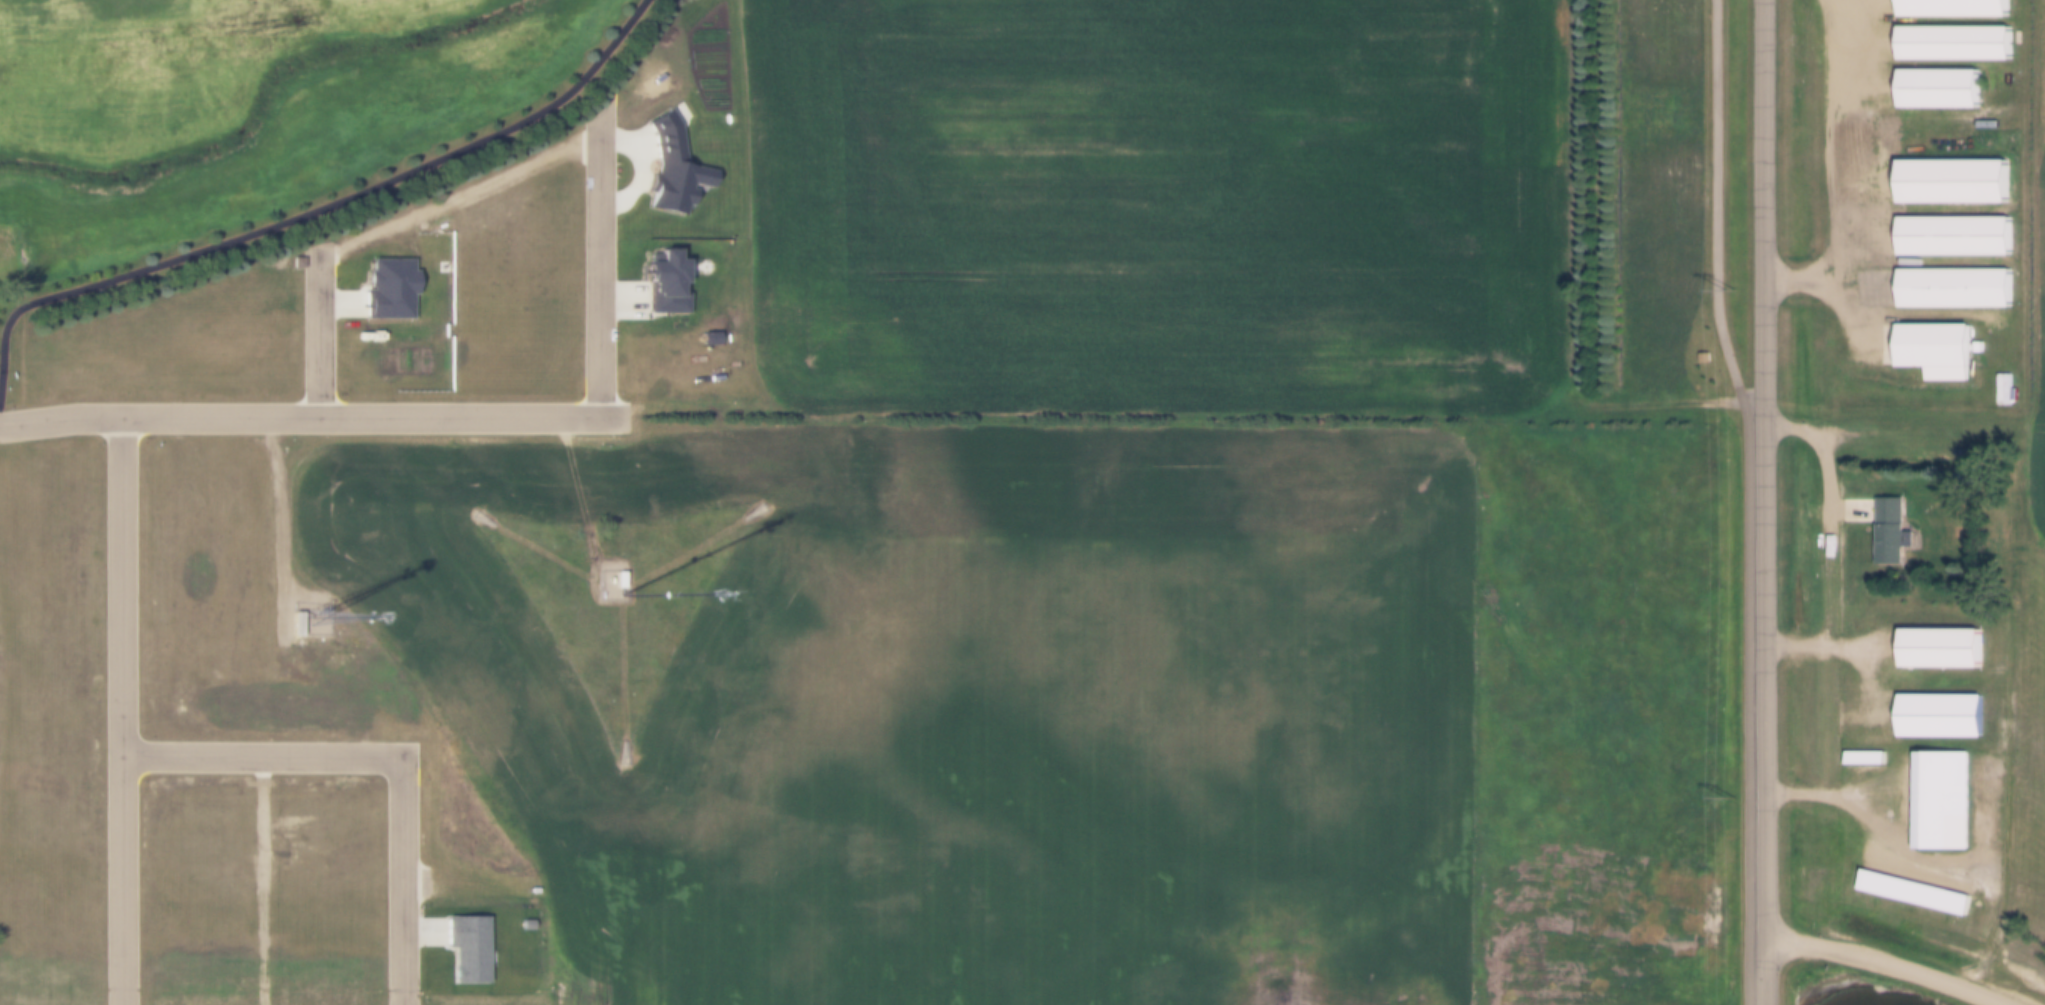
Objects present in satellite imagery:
building: (1943, 3)
building: (1944, 34)
building: (1929, 80)
building: (1943, 171)
road: (313, 208)
building: (1945, 227)
road: (600, 263)
building: (1946, 277)
crop: (2033, 319)
road: (318, 333)
building: (1923, 334)
building: (2005, 388)
road: (1750, 402)
road: (312, 419)
road: (1822, 462)
road: (1742, 500)
road: (1759, 502)
road: (1846, 511)
building: (1887, 531)
building: (618, 580)
building: (622, 580)
building: (298, 624)
building: (1930, 637)
building: (1931, 704)
road: (121, 712)
road: (261, 759)
building: (1933, 791)
road: (401, 882)
building: (1905, 885)
road: (1883, 963)

